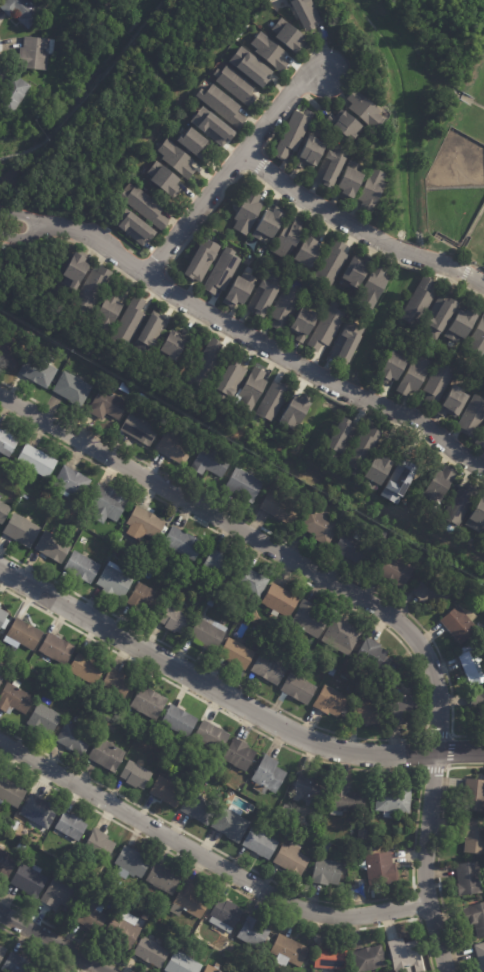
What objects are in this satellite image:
building: (24, 10)
building: (305, 12)
building: (288, 36)
building: (271, 52)
building: (34, 53)
building: (251, 67)
building: (237, 86)
building: (13, 93)
building: (222, 105)
building: (363, 109)
road: (280, 122)
building: (347, 124)
building: (214, 125)
building: (293, 134)
building: (192, 141)
building: (308, 153)
building: (176, 158)
road: (258, 164)
building: (329, 165)
road: (232, 166)
building: (163, 178)
road: (259, 179)
building: (349, 182)
building: (372, 189)
road: (316, 205)
building: (145, 206)
building: (248, 213)
road: (24, 216)
building: (265, 225)
building: (134, 226)
road: (25, 236)
building: (287, 236)
building: (308, 253)
road: (410, 255)
building: (199, 260)
building: (333, 262)
road: (410, 266)
road: (476, 267)
road: (455, 269)
building: (358, 270)
building: (75, 271)
building: (220, 272)
road: (463, 273)
road: (454, 281)
building: (375, 286)
building: (93, 287)
road: (165, 289)
building: (238, 289)
building: (266, 294)
building: (420, 301)
building: (284, 307)
building: (108, 312)
building: (441, 319)
building: (130, 320)
building: (300, 324)
building: (462, 324)
building: (327, 327)
building: (148, 333)
building: (478, 338)
building: (344, 342)
building: (171, 344)
road: (266, 347)
road: (244, 348)
building: (9, 354)
building: (395, 365)
building: (208, 367)
building: (38, 371)
building: (483, 372)
building: (415, 377)
building: (229, 378)
building: (439, 382)
building: (72, 388)
building: (250, 388)
building: (274, 401)
building: (452, 402)
building: (107, 405)
building: (296, 410)
building: (471, 416)
building: (140, 429)
building: (341, 439)
building: (481, 439)
building: (7, 443)
building: (175, 447)
building: (363, 450)
building: (37, 461)
building: (211, 462)
building: (378, 472)
building: (72, 482)
building: (399, 482)
building: (277, 483)
building: (244, 485)
building: (441, 485)
building: (106, 503)
building: (461, 503)
building: (281, 508)
building: (4, 512)
building: (345, 515)
building: (476, 516)
building: (144, 525)
building: (319, 525)
building: (22, 530)
road: (277, 537)
building: (119, 538)
building: (183, 543)
building: (53, 547)
building: (350, 547)
building: (405, 548)
building: (483, 553)
building: (145, 555)
building: (219, 566)
building: (82, 567)
building: (394, 570)
building: (114, 581)
building: (250, 581)
building: (179, 590)
building: (431, 591)
road: (358, 597)
building: (146, 599)
building: (281, 601)
building: (211, 603)
building: (3, 618)
building: (309, 619)
building: (175, 620)
building: (460, 623)
building: (24, 634)
building: (208, 634)
building: (342, 636)
building: (272, 639)
building: (265, 645)
building: (57, 649)
building: (237, 654)
building: (373, 654)
building: (474, 666)
building: (269, 667)
building: (350, 668)
building: (88, 669)
building: (3, 671)
building: (117, 683)
building: (300, 687)
road: (424, 690)
building: (15, 699)
road: (231, 699)
building: (331, 702)
building: (149, 703)
building: (482, 708)
building: (403, 709)
building: (368, 713)
building: (86, 716)
building: (44, 720)
building: (180, 721)
building: (110, 728)
building: (212, 736)
building: (75, 739)
building: (156, 741)
road: (449, 752)
road: (420, 753)
building: (106, 755)
building: (240, 755)
building: (136, 775)
building: (269, 776)
building: (310, 791)
building: (168, 792)
building: (11, 793)
building: (474, 796)
building: (347, 801)
building: (394, 802)
building: (199, 809)
building: (38, 812)
building: (232, 825)
building: (71, 826)
road: (415, 826)
building: (14, 827)
building: (363, 834)
building: (473, 837)
building: (260, 844)
building: (99, 846)
building: (326, 848)
road: (435, 852)
road: (206, 858)
building: (293, 860)
building: (6, 861)
building: (132, 864)
building: (382, 870)
building: (327, 872)
building: (469, 879)
building: (29, 880)
building: (163, 880)
road: (225, 884)
road: (425, 884)
building: (94, 888)
building: (62, 892)
building: (190, 902)
road: (407, 906)
building: (91, 909)
building: (146, 917)
building: (226, 917)
building: (476, 917)
building: (123, 931)
building: (201, 932)
road: (65, 934)
building: (254, 934)
road: (52, 942)
road: (40, 949)
building: (2, 953)
building: (151, 953)
building: (289, 953)
building: (406, 956)
building: (480, 957)
building: (331, 959)
building: (369, 959)
building: (182, 964)
building: (18, 965)
building: (213, 968)

